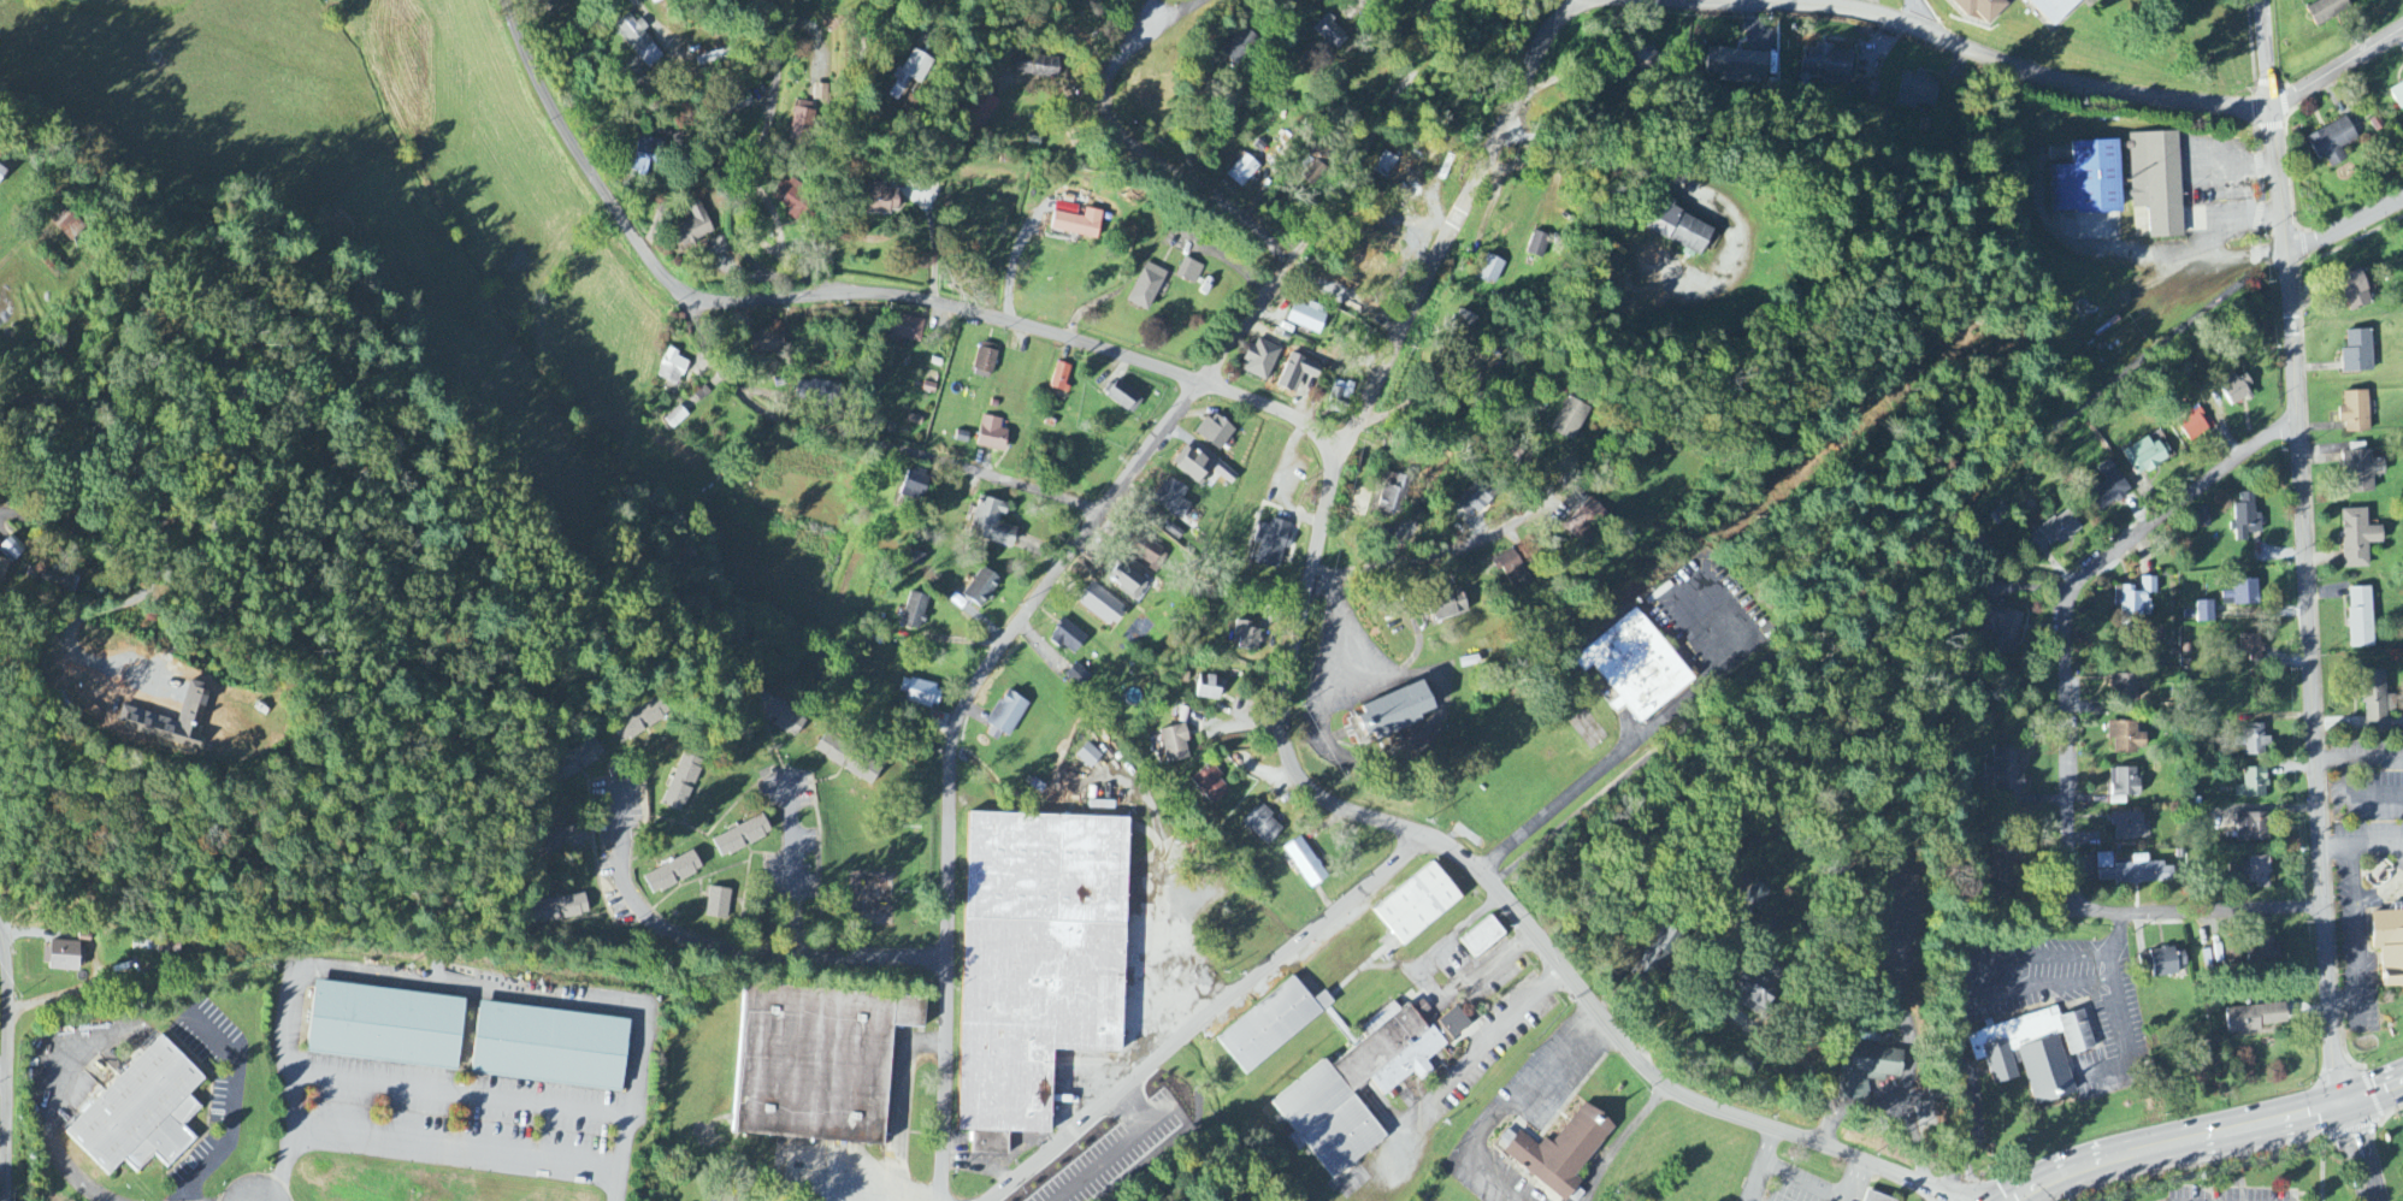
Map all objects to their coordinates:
building: (2098, 0)
building: (657, 1)
road: (1567, 5)
road: (1581, 5)
building: (1985, 8)
building: (2055, 11)
building: (2327, 11)
road: (1144, 17)
road: (1168, 17)
road: (1062, 25)
building: (1332, 34)
building: (638, 41)
building: (1240, 47)
road: (2263, 53)
building: (1642, 59)
building: (1825, 63)
building: (1736, 65)
building: (1038, 67)
road: (2336, 67)
road: (696, 72)
building: (909, 72)
building: (1917, 91)
building: (821, 93)
building: (2397, 96)
building: (802, 120)
building: (2332, 142)
road: (1366, 143)
building: (645, 155)
road: (1570, 161)
building: (1, 171)
building: (1241, 171)
building: (2083, 174)
road: (750, 177)
road: (2260, 188)
building: (790, 199)
building: (879, 199)
road: (1216, 201)
building: (1077, 224)
building: (70, 226)
building: (692, 227)
building: (1678, 227)
road: (2345, 241)
road: (933, 245)
building: (1539, 245)
building: (1358, 267)
building: (1490, 270)
building: (1189, 272)
building: (1146, 286)
building: (2355, 290)
road: (850, 300)
building: (1307, 318)
building: (903, 329)
road: (2292, 342)
building: (766, 343)
building: (2358, 353)
building: (1260, 360)
building: (985, 361)
building: (672, 368)
road: (225, 369)
building: (1061, 378)
building: (817, 389)
building: (2238, 391)
building: (1123, 397)
building: (2356, 412)
building: (675, 418)
building: (1570, 420)
building: (2194, 425)
building: (1215, 432)
building: (991, 436)
road: (862, 440)
building: (2144, 456)
building: (1192, 465)
building: (2362, 472)
road: (57, 484)
building: (914, 487)
building: (2104, 489)
building: (1394, 496)
building: (1475, 498)
building: (1174, 501)
building: (1575, 502)
building: (2246, 517)
building: (1587, 521)
building: (991, 523)
building: (2059, 529)
building: (1171, 531)
building: (2358, 539)
building: (1271, 543)
building: (11, 550)
road: (1448, 552)
building: (1149, 554)
building: (916, 558)
building: (1510, 568)
building: (2, 570)
road: (1870, 574)
building: (1124, 580)
building: (60, 584)
building: (981, 588)
building: (2242, 594)
building: (2135, 598)
building: (1102, 605)
building: (1445, 607)
building: (915, 613)
building: (2204, 613)
building: (2361, 619)
building: (2003, 629)
road: (1345, 631)
building: (1246, 637)
building: (1068, 638)
building: (2251, 649)
building: (1640, 664)
building: (1077, 676)
building: (2124, 687)
building: (1208, 688)
building: (917, 693)
building: (2377, 700)
building: (1393, 712)
building: (1006, 717)
building: (640, 721)
building: (784, 721)
building: (169, 722)
road: (2067, 730)
building: (2126, 738)
road: (1635, 740)
building: (2255, 741)
building: (1174, 744)
road: (950, 751)
building: (1088, 757)
building: (577, 761)
building: (849, 761)
road: (2360, 764)
road: (1298, 765)
building: (2006, 774)
building: (681, 782)
building: (2254, 785)
building: (1210, 786)
building: (2124, 786)
road: (2360, 798)
building: (1262, 824)
building: (2129, 827)
building: (2253, 828)
building: (571, 838)
building: (742, 838)
road: (2378, 848)
road: (2338, 851)
building: (2104, 862)
building: (1304, 863)
building: (2007, 863)
road: (791, 866)
building: (2137, 872)
building: (2259, 872)
building: (673, 874)
building: (718, 904)
building: (1417, 905)
building: (561, 909)
road: (2356, 927)
road: (661, 929)
building: (1482, 939)
building: (2390, 946)
building: (1659, 951)
building: (2262, 953)
road: (881, 956)
building: (63, 958)
building: (1037, 960)
road: (1712, 962)
building: (2167, 963)
road: (98, 964)
road: (445, 982)
road: (1960, 987)
building: (1758, 988)
road: (2346, 1005)
road: (2120, 1006)
road: (2357, 1016)
road: (1204, 1018)
building: (2254, 1018)
building: (1454, 1024)
building: (1271, 1025)
building: (385, 1027)
building: (549, 1048)
building: (2033, 1053)
road: (6, 1061)
road: (1466, 1063)
building: (817, 1064)
building: (1870, 1066)
road: (2, 1069)
building: (1358, 1088)
road: (462, 1094)
traffic signals: (2346, 1101)
road: (235, 1107)
road: (1508, 1110)
building: (140, 1112)
road: (903, 1118)
road: (2202, 1135)
road: (1620, 1140)
road: (455, 1143)
road: (2360, 1150)
parking lot: (1108, 1152)
building: (1559, 1152)
road: (1140, 1159)
road: (63, 1161)
road: (1760, 1164)
road: (2322, 1166)
road: (1806, 1178)
road: (1858, 1181)
parking lot: (1791, 1188)
parking lot: (2232, 1193)
building: (1877, 1196)

